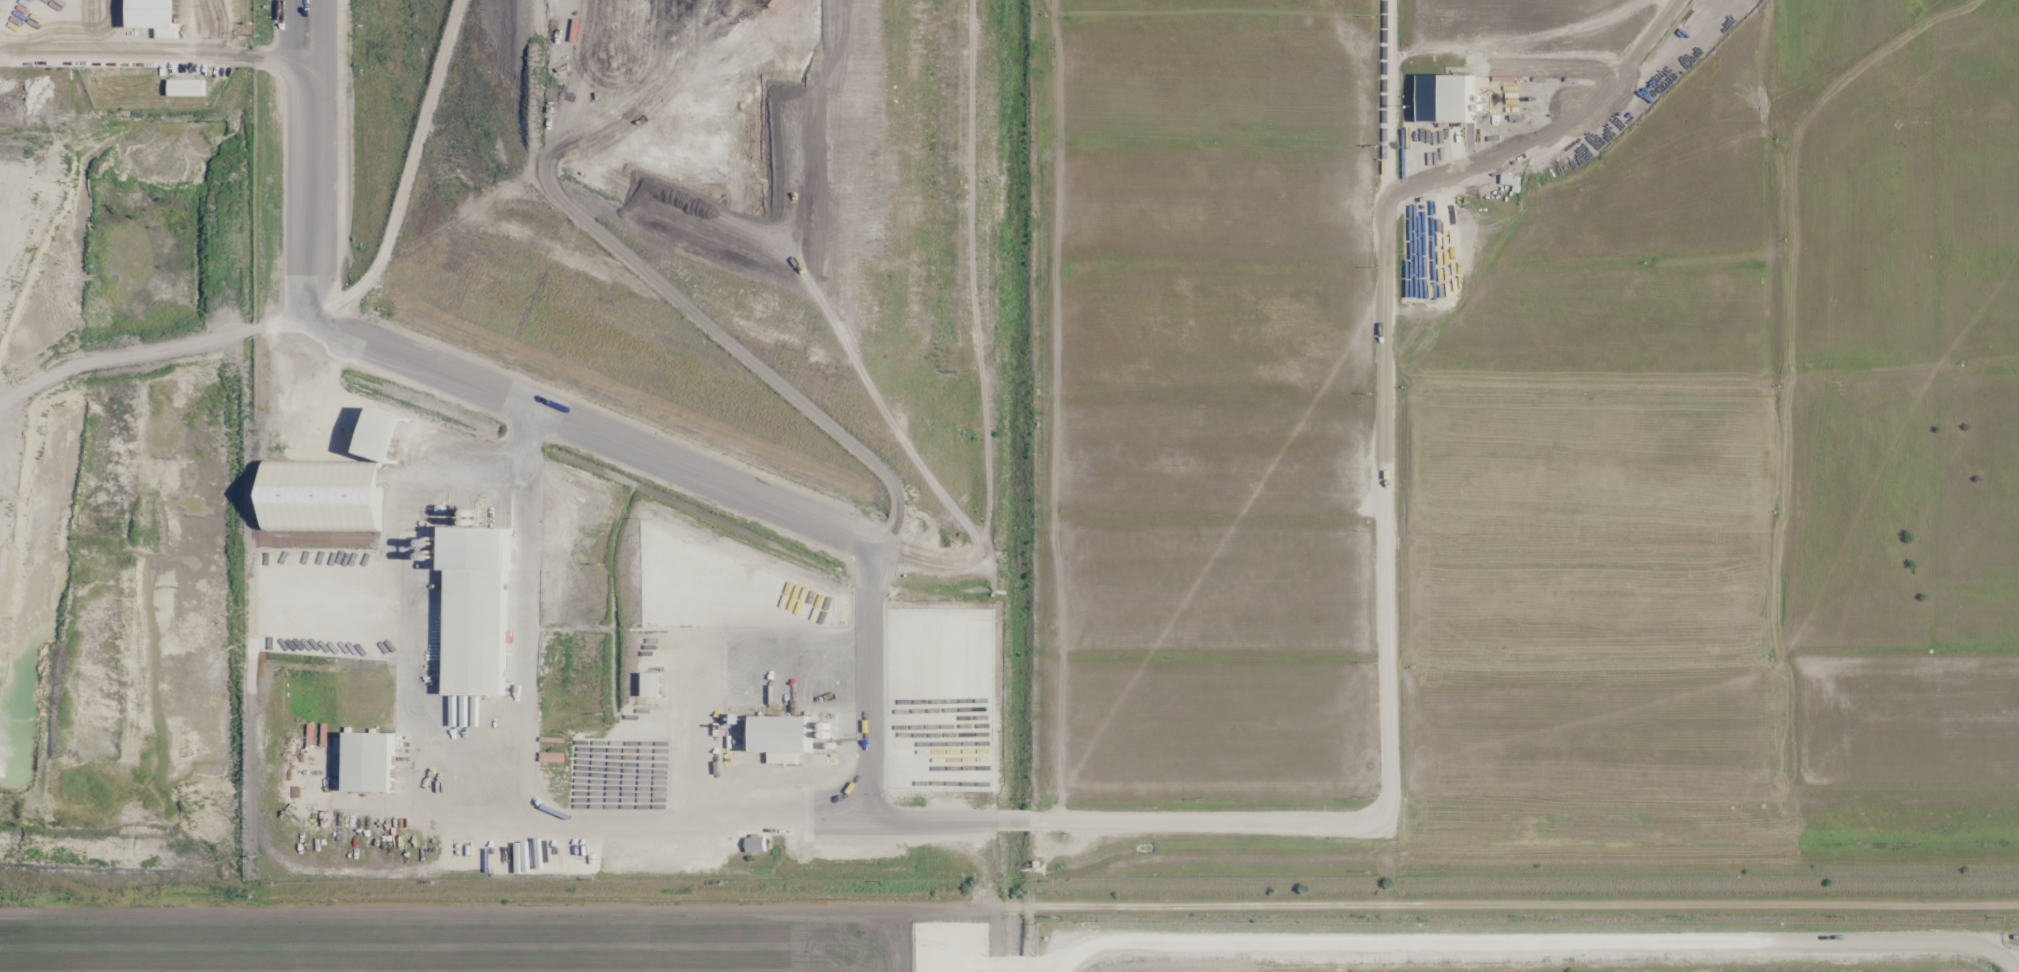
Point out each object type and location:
building: (1449, 100)
building: (387, 434)
building: (479, 610)
building: (653, 684)
building: (784, 734)
building: (372, 762)
road: (1520, 906)
road: (502, 907)
road: (1013, 907)

